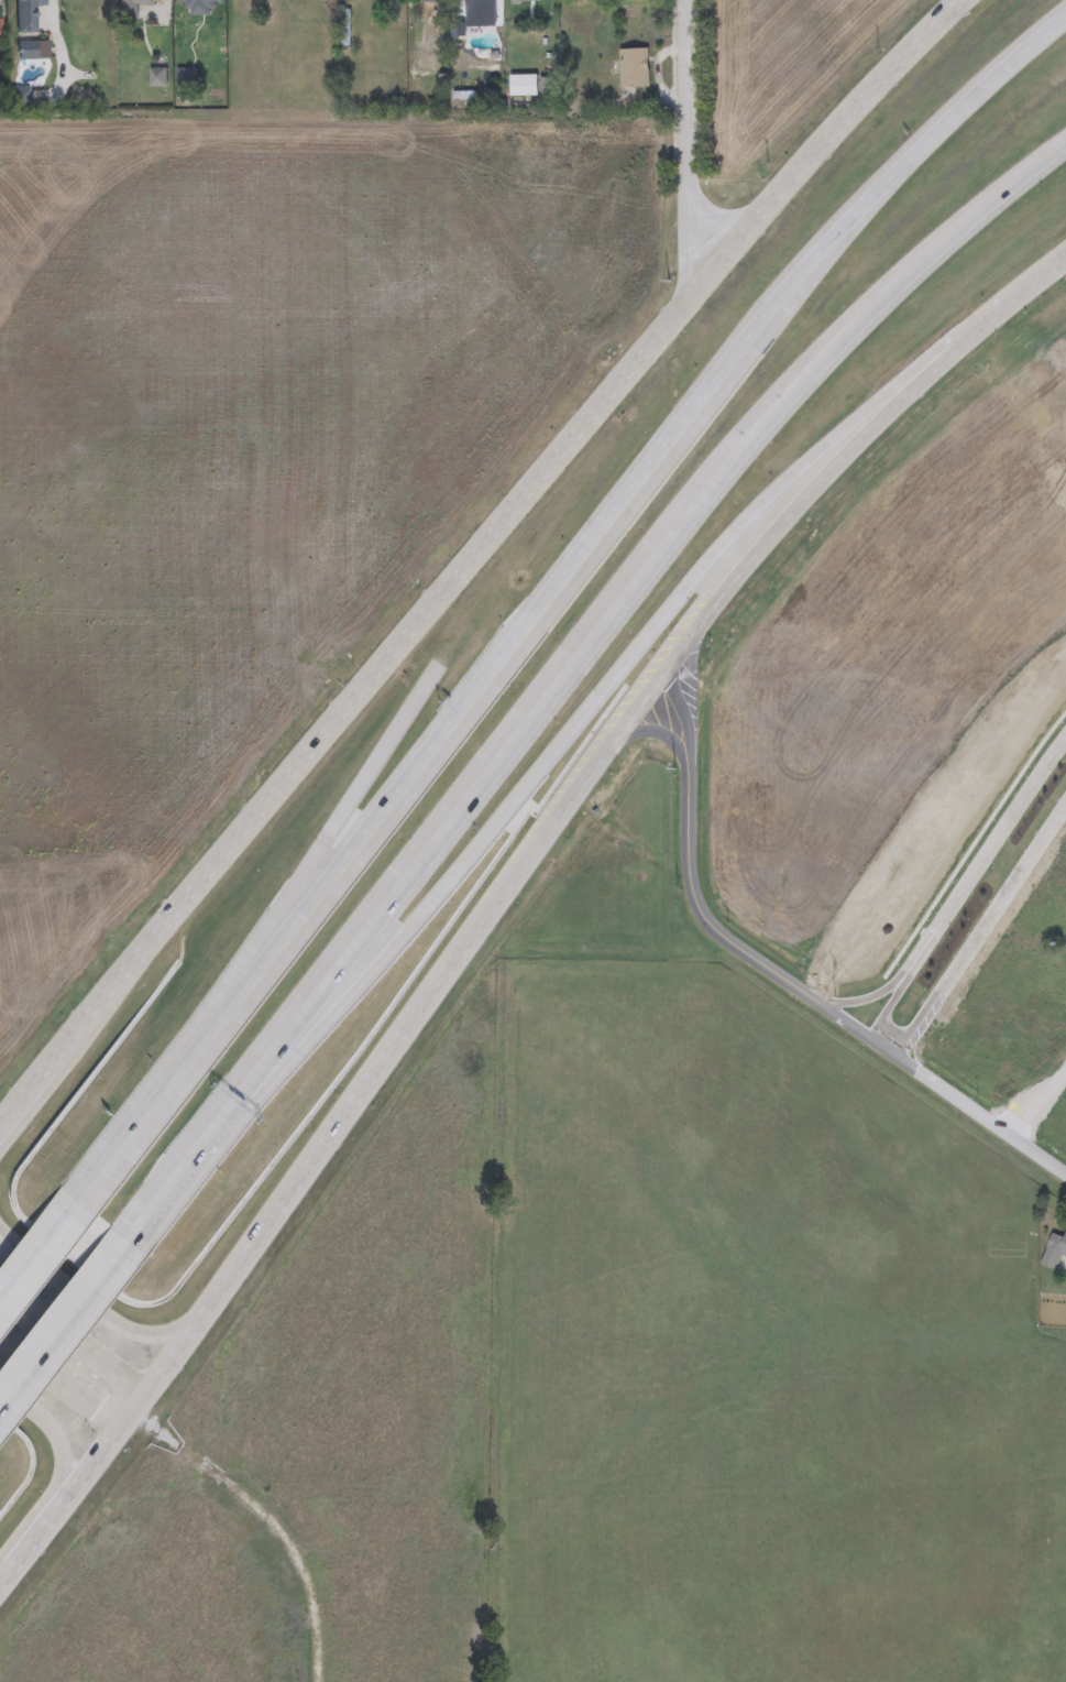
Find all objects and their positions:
building: (634, 0)
building: (530, 1)
building: (136, 7)
building: (201, 7)
building: (28, 15)
building: (29, 51)
building: (635, 68)
building: (158, 78)
building: (187, 79)
building: (525, 86)
road: (688, 150)
road: (690, 426)
crop: (250, 452)
road: (474, 560)
road: (605, 630)
road: (614, 690)
road: (681, 718)
road: (661, 729)
road: (974, 844)
road: (986, 854)
road: (702, 915)
road: (983, 938)
road: (457, 968)
road: (870, 997)
road: (889, 1002)
road: (845, 1019)
road: (884, 1047)
road: (205, 1055)
road: (982, 1118)
road: (154, 1217)
building: (1053, 1250)
road: (28, 1281)
road: (96, 1301)
crop: (1052, 1311)
road: (72, 1337)
road: (54, 1351)
road: (61, 1380)
road: (59, 1467)

